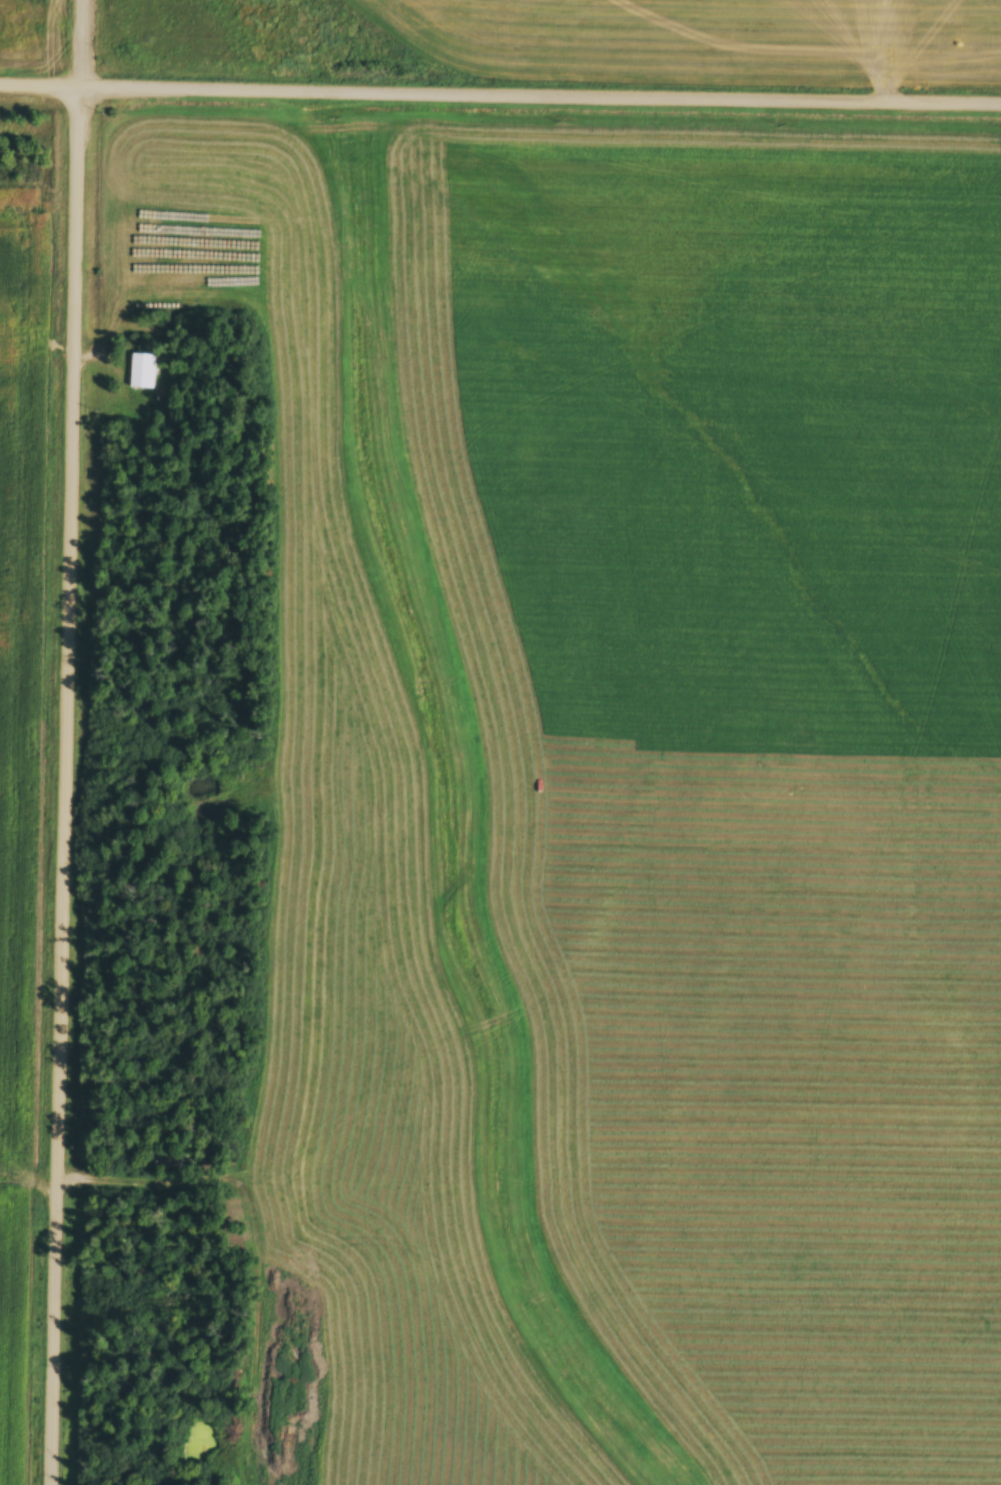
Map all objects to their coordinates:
road: (500, 92)
building: (143, 372)
road: (177, 742)

